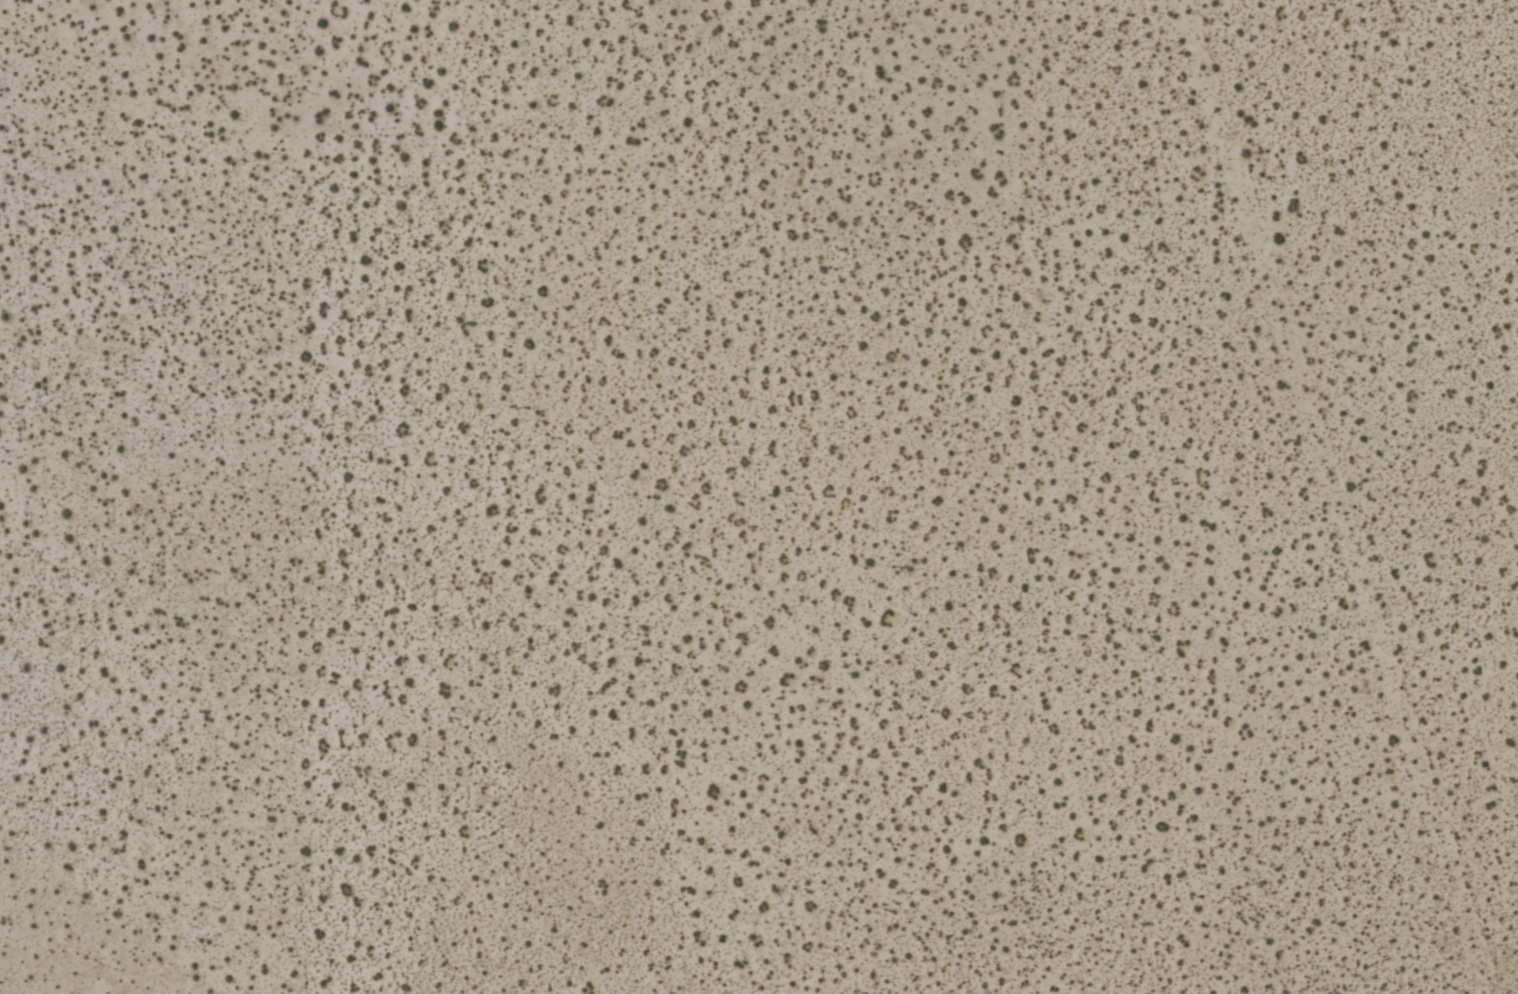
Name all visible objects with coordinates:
road: (1341, 494)

